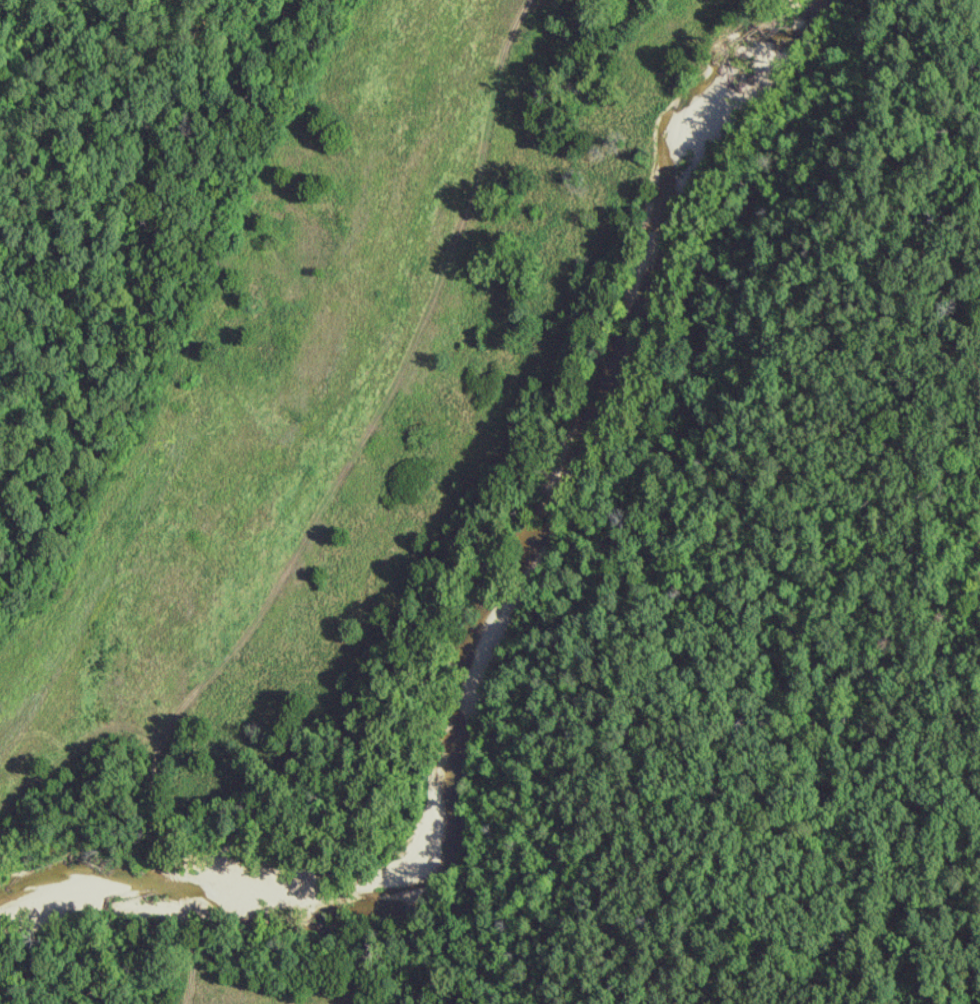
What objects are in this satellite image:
road: (321, 509)

